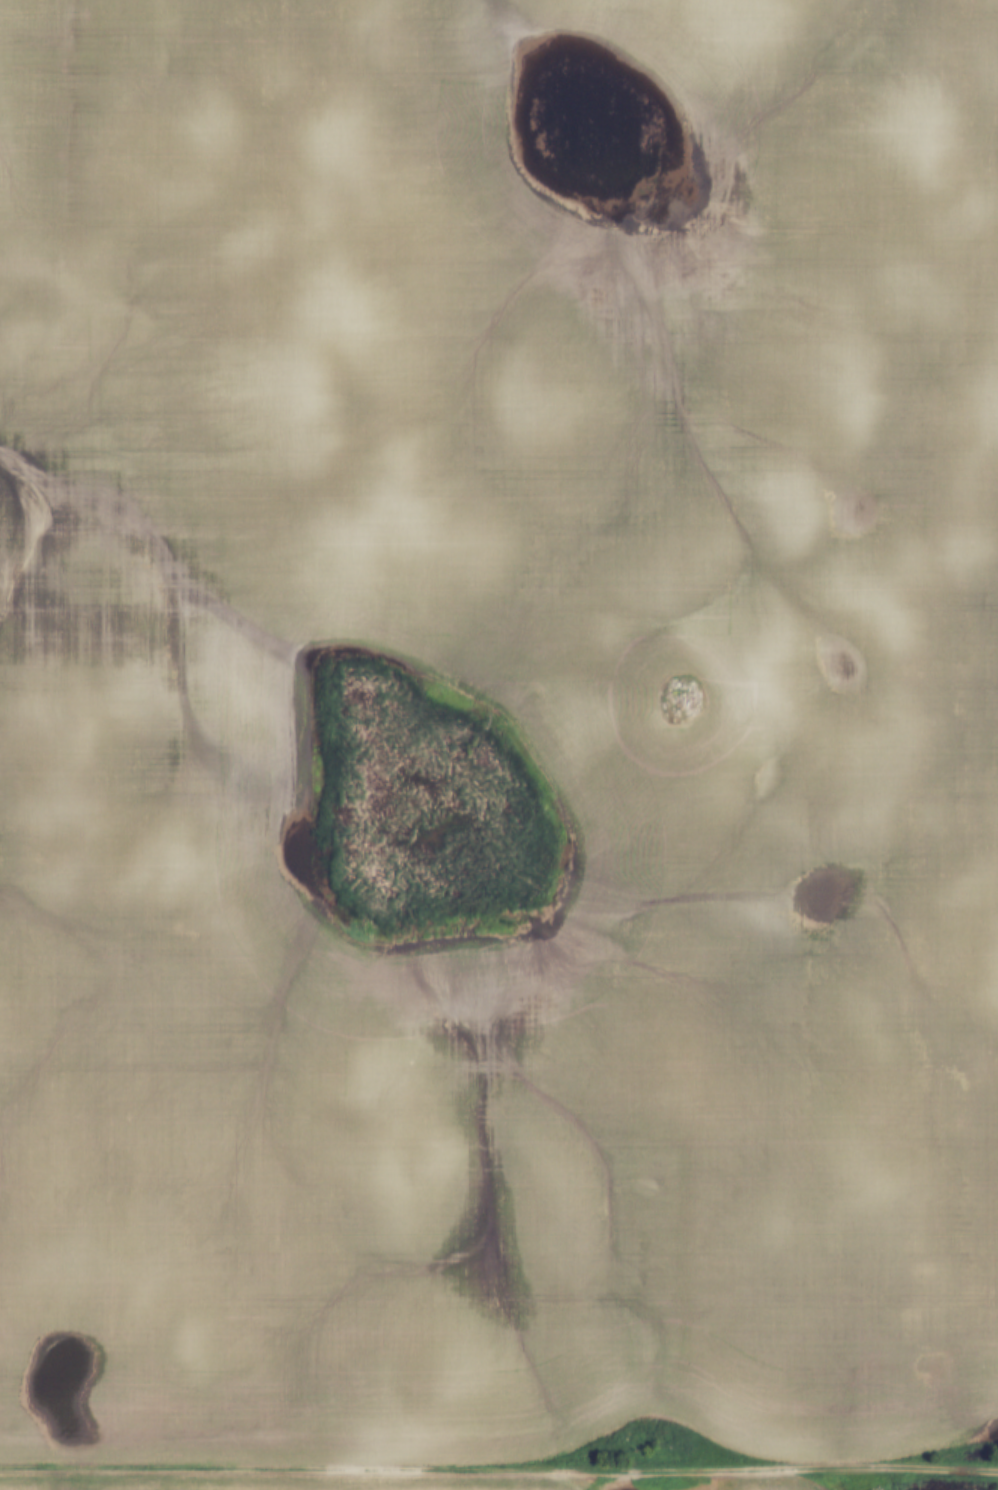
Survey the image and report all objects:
road: (499, 1471)

